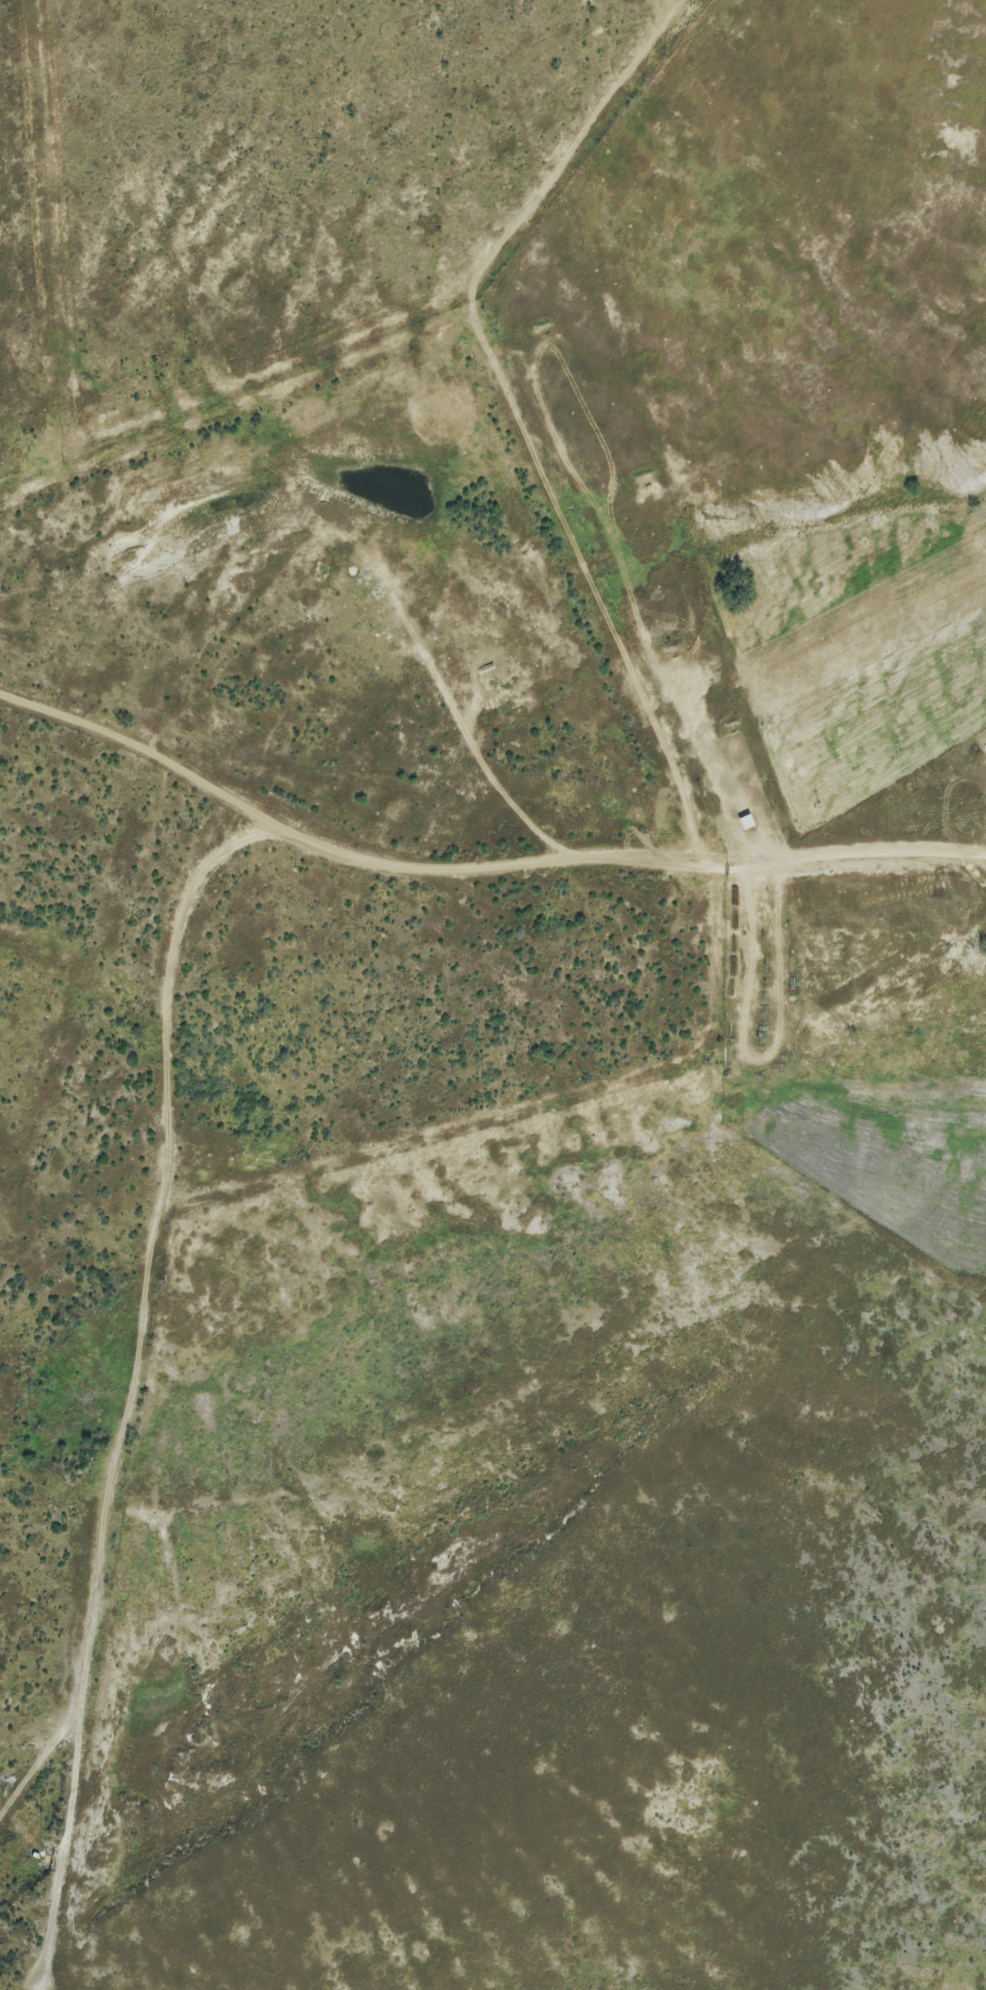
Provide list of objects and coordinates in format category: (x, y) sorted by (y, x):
building: (743, 824)
road: (473, 869)
road: (144, 1333)

